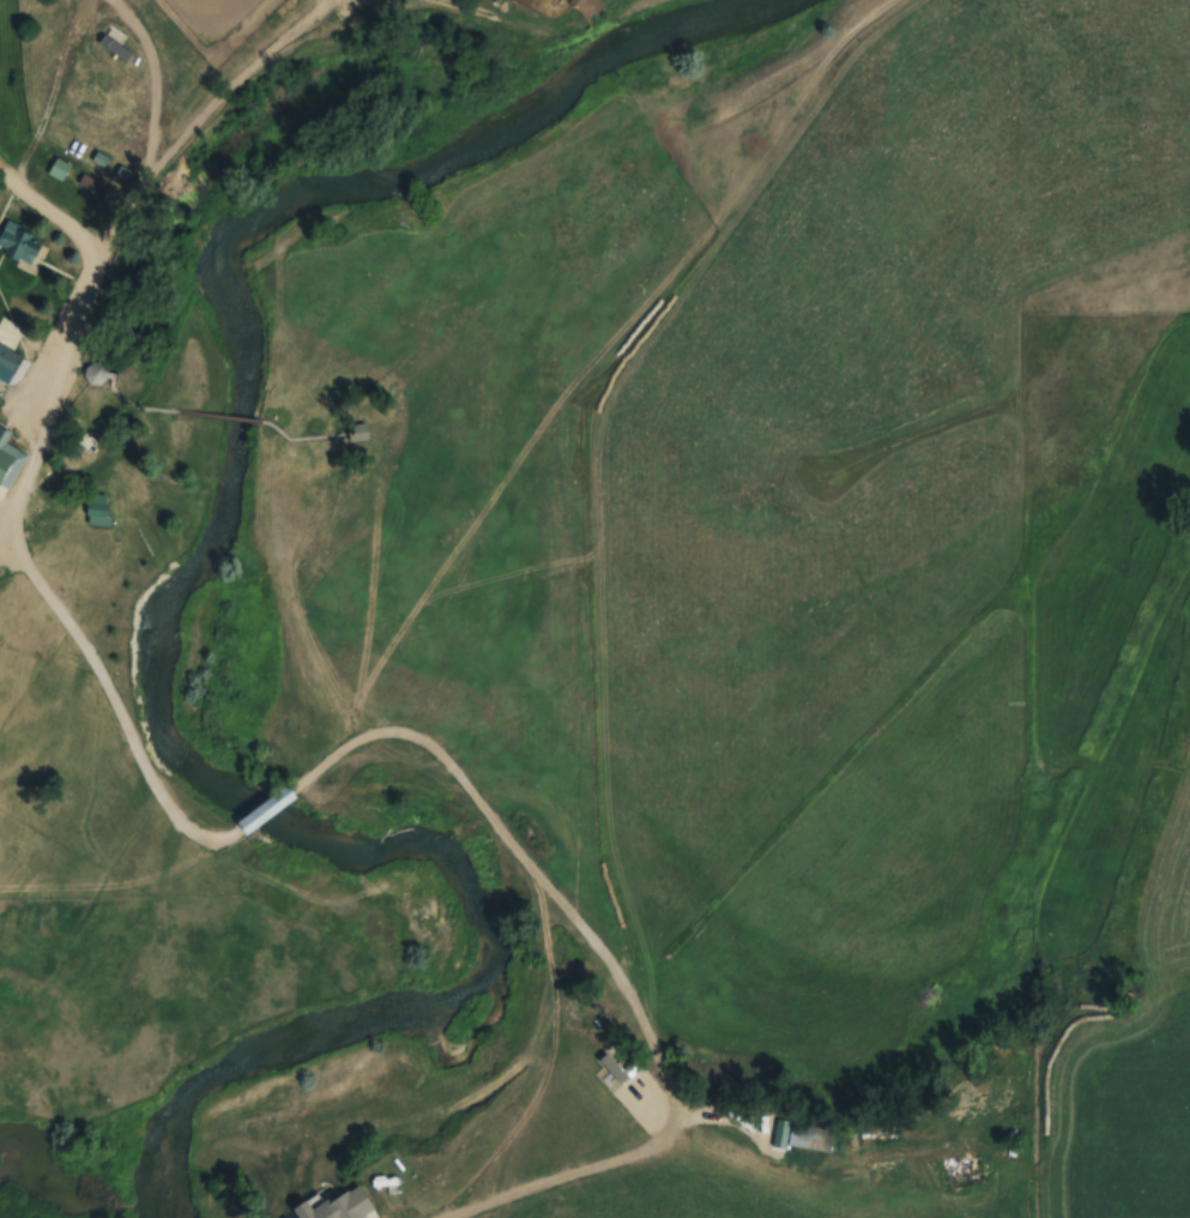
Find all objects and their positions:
building: (115, 48)
building: (59, 170)
building: (19, 243)
building: (10, 360)
building: (10, 460)
building: (97, 508)
river: (179, 641)
building: (272, 807)
building: (808, 1135)

